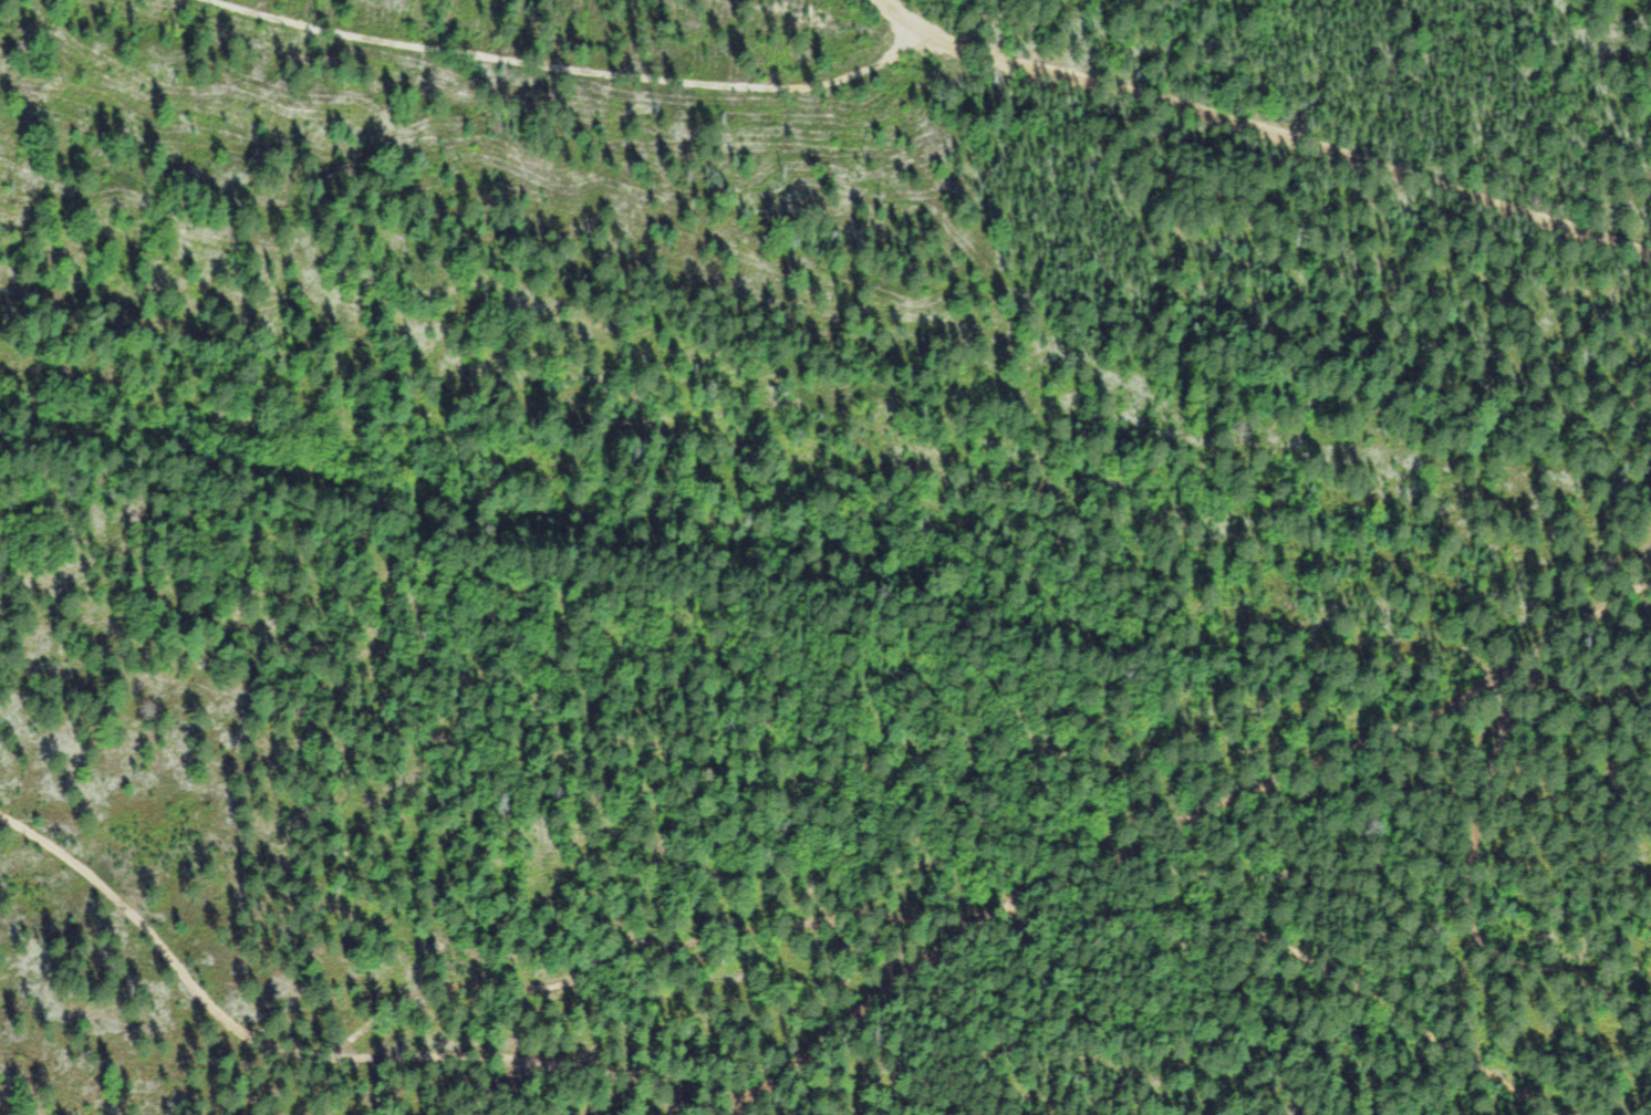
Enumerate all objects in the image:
road: (902, 17)
road: (542, 54)
road: (1287, 152)
road: (1374, 752)
road: (786, 1078)
road: (494, 1086)

